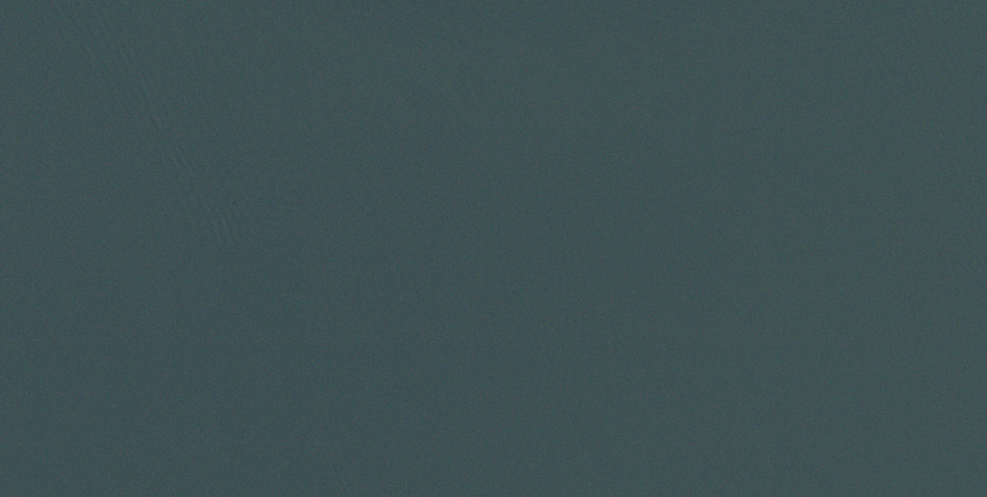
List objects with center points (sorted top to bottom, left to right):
river: (285, 241)

